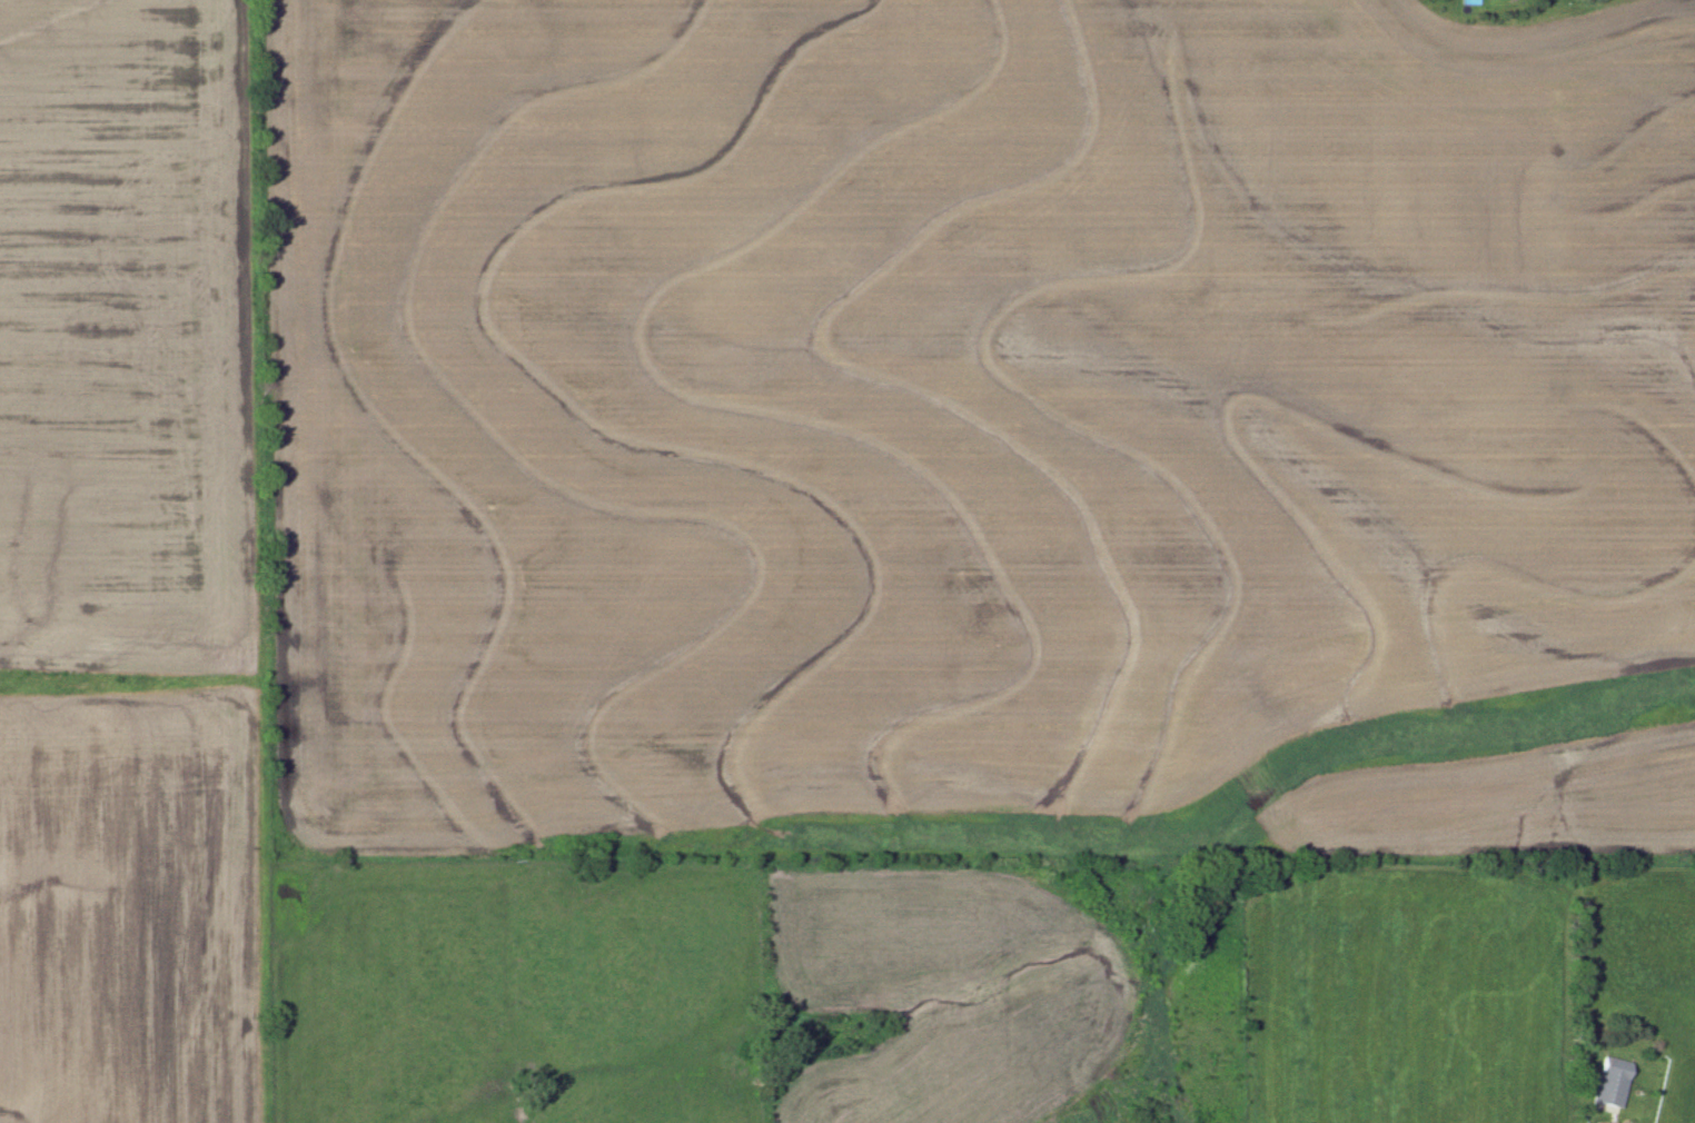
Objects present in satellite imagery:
building: (1610, 1082)

